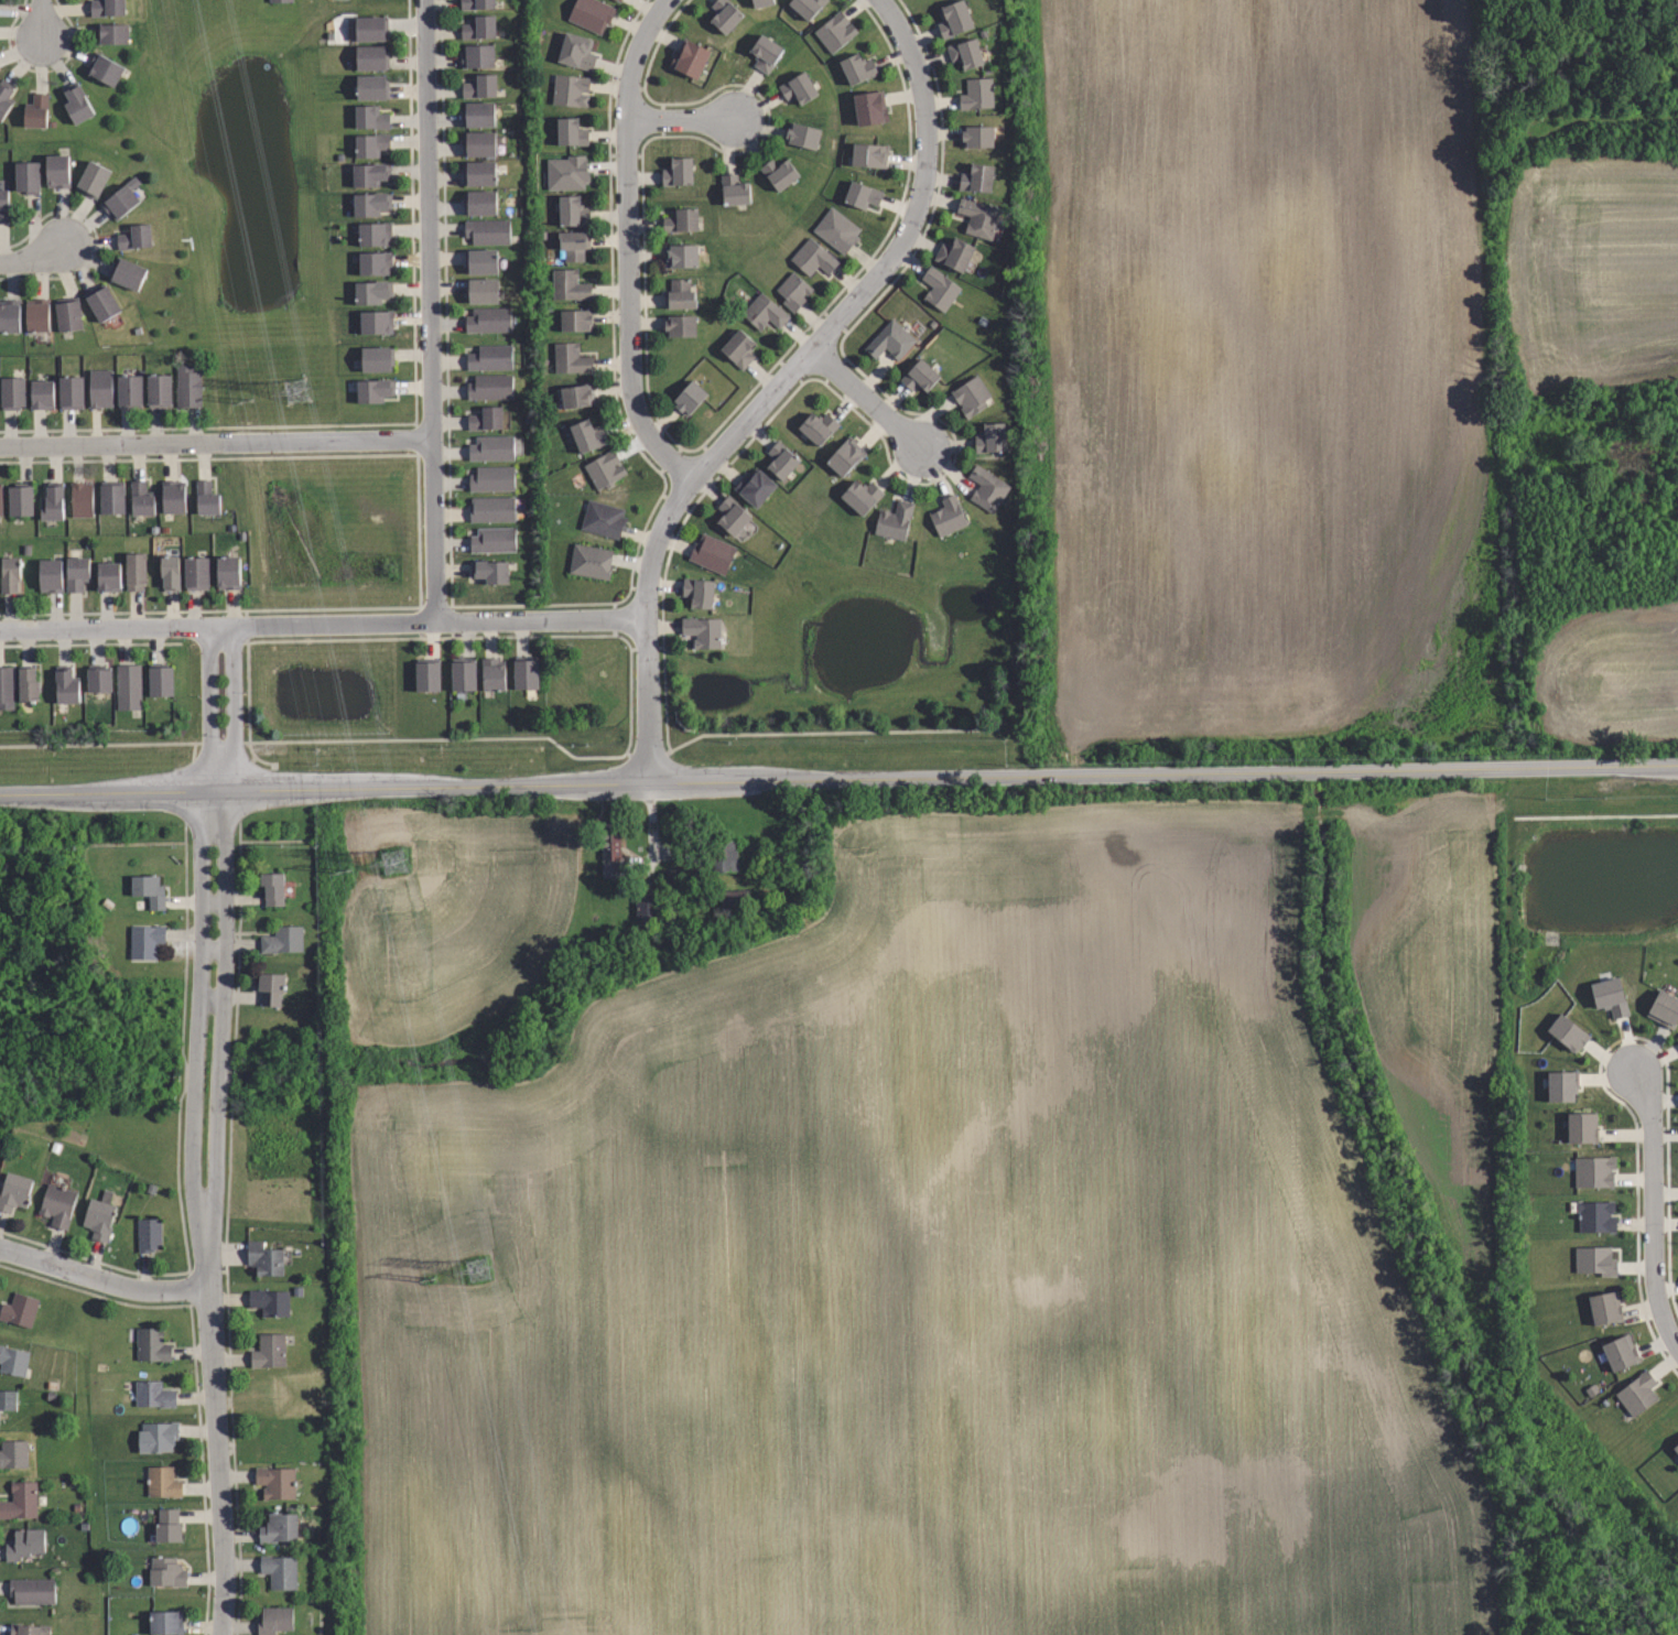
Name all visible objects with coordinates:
building: (277, 0)
building: (337, 0)
building: (618, 0)
building: (759, 1)
building: (478, 3)
building: (107, 7)
building: (805, 8)
building: (591, 13)
building: (724, 14)
building: (952, 18)
road: (40, 19)
building: (479, 26)
building: (371, 29)
building: (835, 31)
building: (113, 33)
building: (575, 51)
building: (764, 53)
building: (964, 53)
building: (479, 56)
building: (372, 57)
building: (689, 59)
building: (105, 68)
building: (858, 68)
building: (481, 86)
building: (372, 87)
building: (797, 88)
building: (569, 90)
building: (978, 94)
building: (6, 98)
building: (77, 104)
building: (870, 108)
building: (35, 110)
building: (479, 115)
building: (369, 117)
road: (680, 119)
building: (569, 132)
building: (800, 136)
building: (976, 136)
building: (370, 143)
building: (479, 144)
building: (869, 154)
building: (56, 170)
road: (409, 170)
building: (678, 172)
building: (480, 173)
building: (566, 173)
building: (777, 173)
building: (370, 174)
building: (28, 175)
building: (978, 177)
building: (95, 178)
building: (734, 191)
building: (858, 195)
building: (122, 197)
building: (371, 203)
building: (481, 203)
building: (4, 205)
building: (572, 209)
building: (976, 217)
building: (679, 220)
road: (410, 229)
building: (835, 230)
building: (488, 231)
building: (375, 234)
building: (134, 237)
building: (572, 245)
road: (628, 245)
building: (952, 253)
building: (681, 256)
road: (32, 257)
building: (811, 258)
building: (481, 261)
building: (375, 262)
building: (128, 272)
building: (567, 284)
building: (938, 289)
building: (372, 291)
building: (483, 291)
building: (791, 292)
building: (679, 294)
building: (104, 302)
road: (431, 310)
building: (765, 312)
building: (69, 314)
building: (10, 315)
building: (39, 315)
building: (489, 320)
building: (575, 320)
building: (375, 321)
building: (679, 325)
building: (890, 339)
building: (737, 348)
building: (491, 357)
building: (378, 358)
building: (569, 358)
building: (920, 375)
road: (779, 382)
building: (188, 386)
road: (414, 387)
building: (492, 387)
building: (101, 388)
building: (160, 390)
building: (374, 390)
building: (131, 391)
building: (72, 392)
power tower: (299, 392)
building: (13, 393)
building: (43, 394)
building: (578, 394)
building: (971, 396)
building: (688, 398)
road: (866, 399)
building: (486, 419)
building: (818, 427)
building: (587, 434)
building: (989, 437)
road: (216, 442)
building: (492, 448)
building: (845, 455)
building: (780, 462)
building: (603, 470)
building: (492, 478)
building: (755, 486)
building: (985, 489)
building: (859, 496)
building: (175, 497)
building: (207, 497)
building: (113, 498)
building: (1, 499)
building: (83, 499)
building: (140, 499)
building: (22, 500)
building: (53, 502)
building: (492, 509)
building: (730, 515)
building: (946, 516)
building: (602, 519)
building: (894, 521)
building: (744, 530)
building: (494, 540)
building: (711, 553)
building: (588, 562)
building: (490, 571)
building: (136, 572)
building: (171, 573)
building: (197, 573)
building: (229, 573)
building: (78, 574)
building: (11, 575)
building: (53, 575)
building: (108, 576)
building: (697, 592)
road: (322, 622)
building: (703, 631)
building: (526, 672)
building: (426, 673)
building: (491, 673)
building: (462, 674)
building: (100, 680)
building: (161, 682)
building: (29, 684)
building: (127, 685)
building: (65, 687)
building: (7, 689)
road: (838, 779)
building: (610, 847)
building: (717, 856)
power tower: (402, 863)
building: (273, 890)
building: (149, 892)
building: (144, 940)
building: (282, 941)
building: (271, 988)
building: (1610, 995)
building: (1664, 1007)
building: (1569, 1031)
building: (1561, 1084)
building: (1581, 1127)
road: (205, 1129)
building: (1594, 1170)
building: (13, 1195)
building: (56, 1206)
road: (1653, 1209)
building: (100, 1216)
building: (1596, 1216)
building: (148, 1234)
building: (1594, 1259)
building: (266, 1260)
power tower: (490, 1273)
road: (102, 1279)
building: (268, 1301)
building: (1605, 1307)
building: (18, 1310)
building: (151, 1345)
building: (268, 1351)
building: (1620, 1353)
building: (13, 1363)
building: (1637, 1393)
building: (152, 1395)
building: (8, 1404)
building: (158, 1438)
building: (1676, 1448)
building: (13, 1454)
building: (161, 1482)
building: (274, 1482)
building: (20, 1499)
building: (166, 1526)
building: (278, 1529)
building: (24, 1542)
building: (166, 1571)
building: (279, 1571)
building: (33, 1592)
building: (273, 1618)
building: (166, 1622)
building: (28, 1629)

